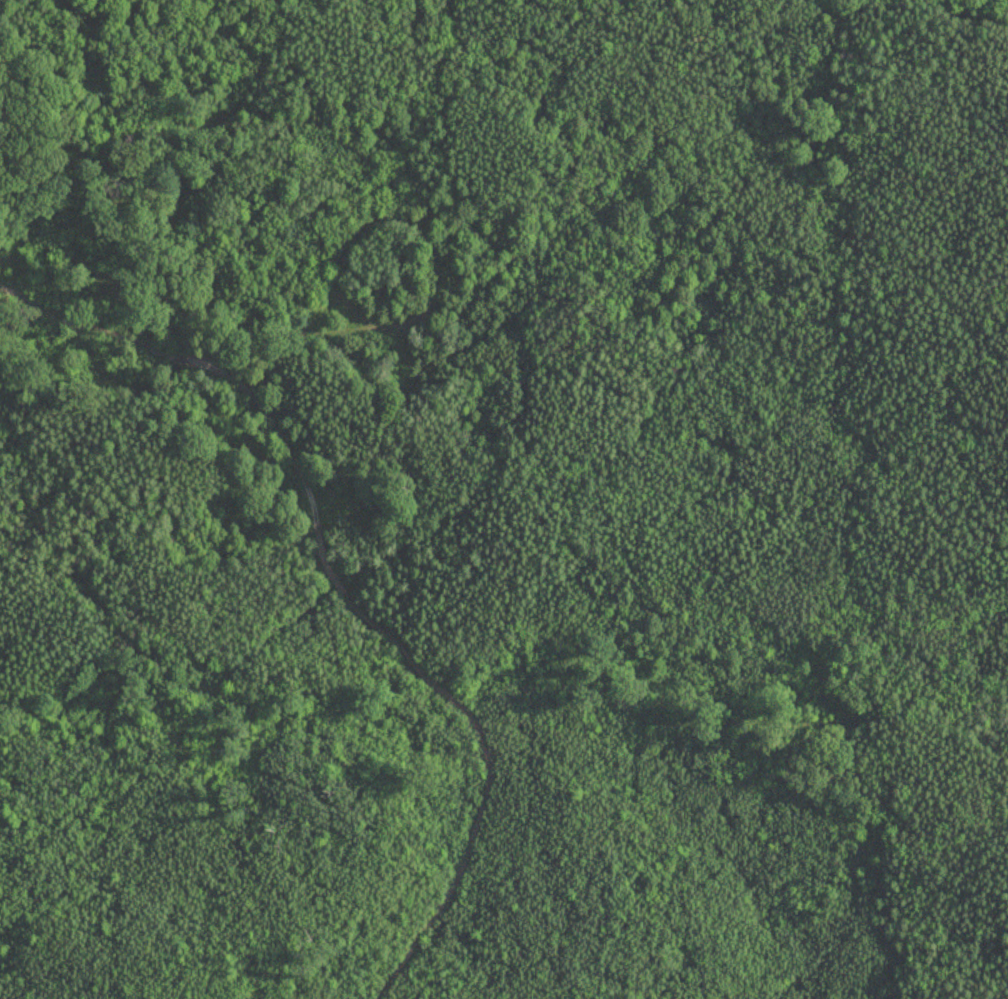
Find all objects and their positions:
road: (343, 590)

